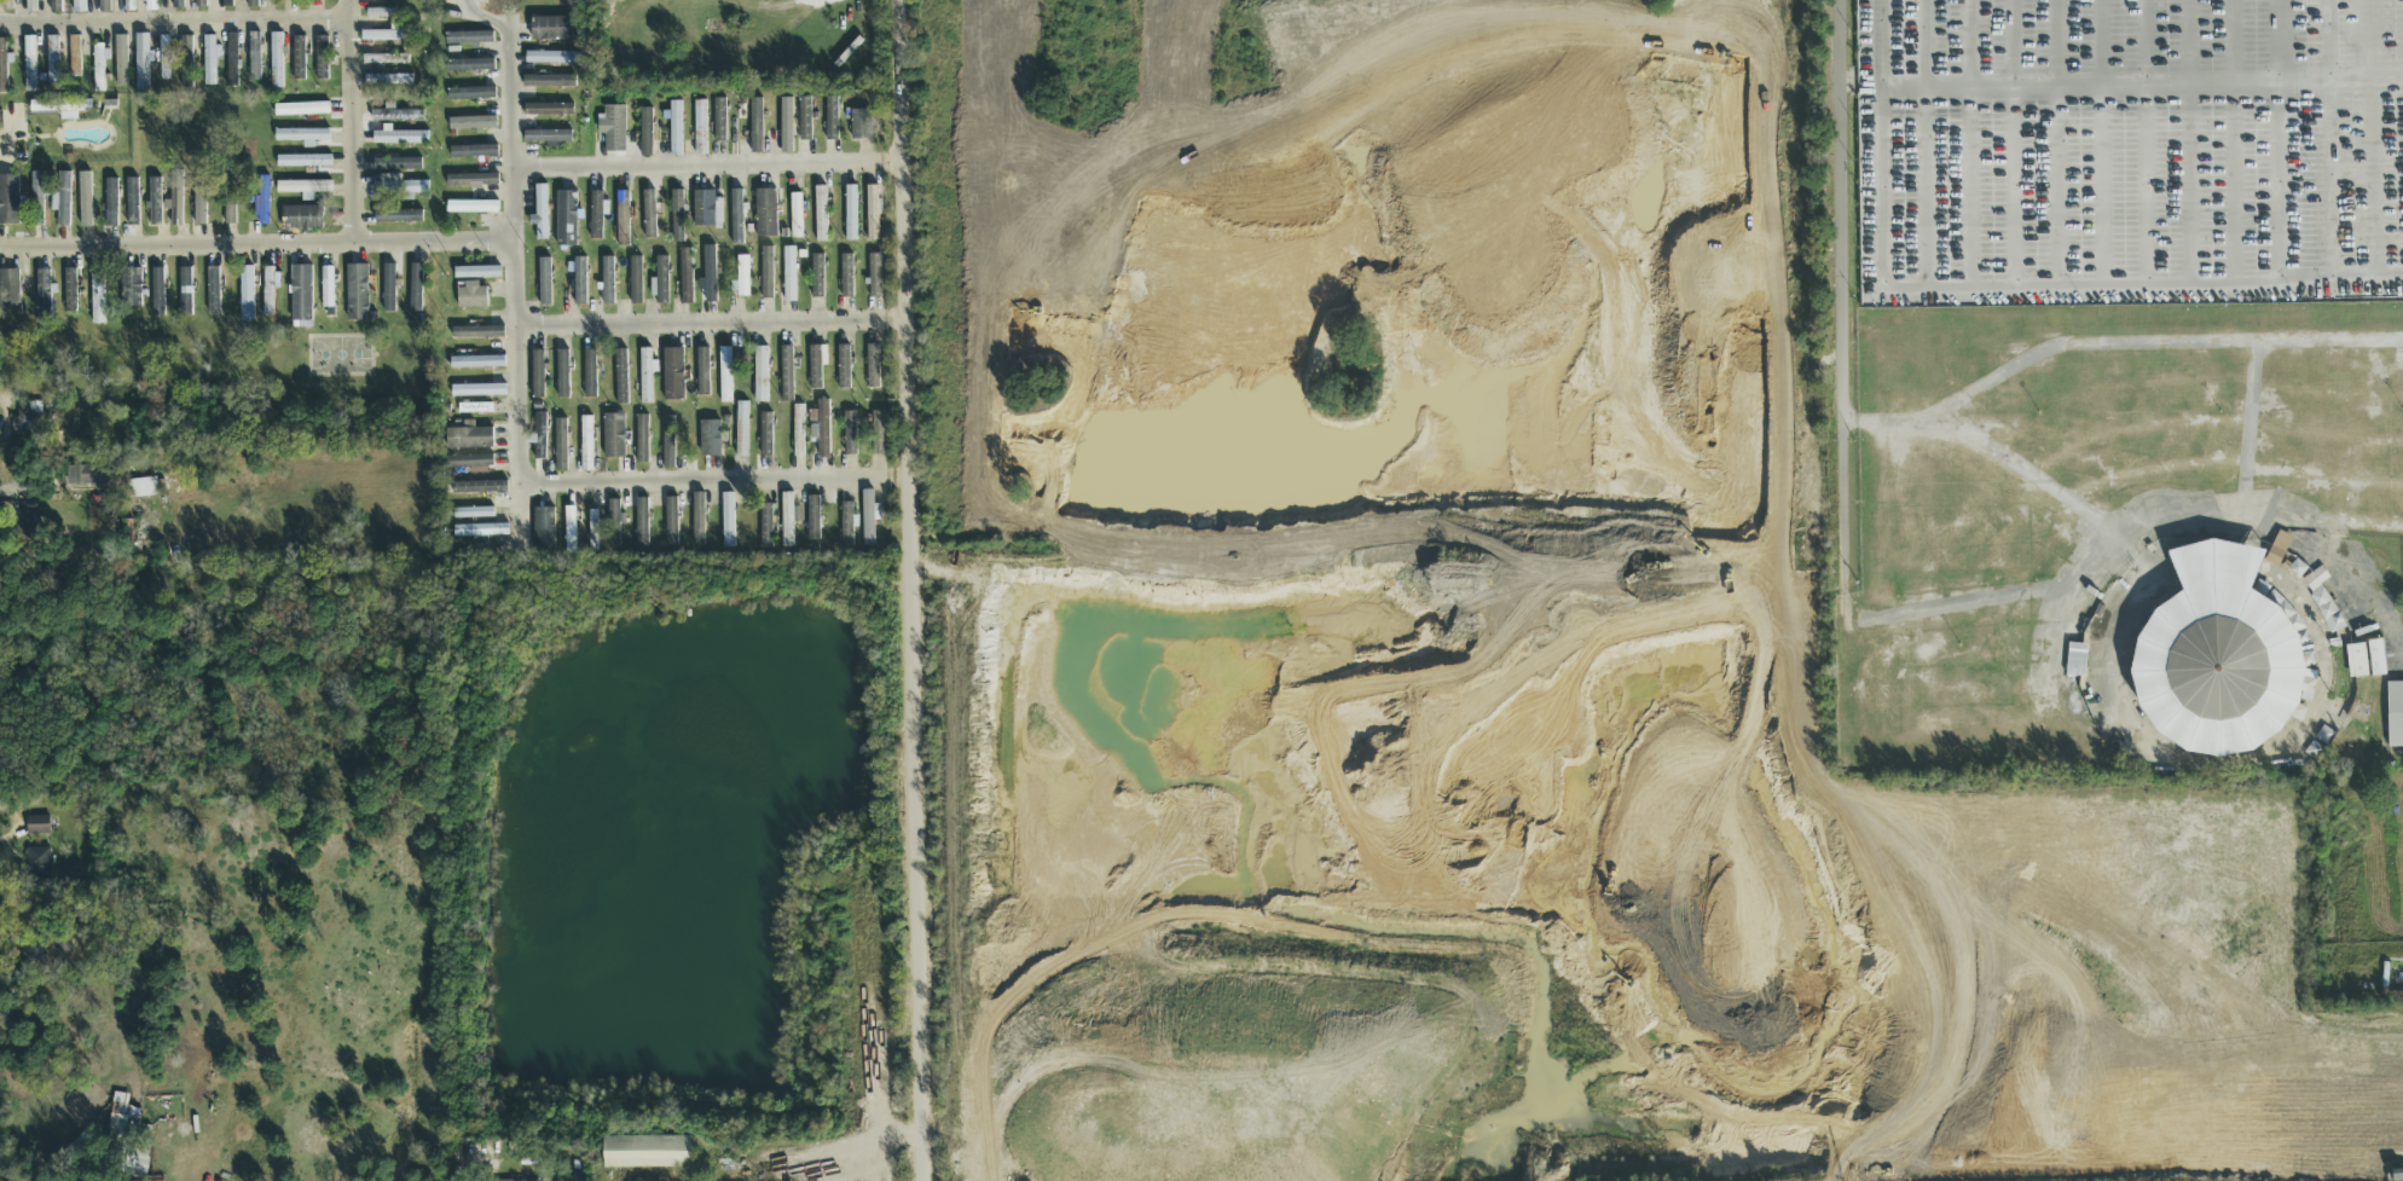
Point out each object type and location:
building: (315, 0)
building: (178, 4)
building: (201, 4)
building: (228, 4)
building: (251, 4)
building: (129, 5)
building: (151, 5)
building: (29, 6)
building: (56, 6)
building: (77, 6)
building: (104, 6)
building: (380, 13)
road: (175, 22)
building: (551, 29)
building: (383, 36)
building: (469, 39)
building: (75, 56)
building: (255, 57)
building: (164, 58)
building: (322, 58)
building: (552, 58)
building: (299, 59)
building: (386, 59)
building: (52, 60)
building: (121, 60)
building: (187, 60)
building: (210, 60)
building: (232, 60)
building: (277, 60)
building: (143, 63)
building: (30, 64)
building: (2, 66)
building: (99, 66)
building: (470, 66)
building: (388, 80)
building: (550, 82)
road: (2103, 86)
building: (471, 94)
building: (62, 108)
building: (302, 110)
building: (549, 110)
building: (393, 116)
building: (805, 118)
building: (832, 120)
road: (352, 121)
building: (720, 121)
building: (473, 123)
building: (862, 125)
building: (755, 126)
building: (787, 126)
building: (676, 128)
building: (700, 128)
building: (615, 129)
building: (645, 132)
building: (302, 137)
building: (399, 138)
building: (549, 138)
building: (474, 152)
building: (303, 161)
road: (2330, 163)
building: (396, 164)
road: (708, 167)
building: (473, 180)
building: (230, 181)
building: (399, 186)
building: (305, 189)
building: (37, 198)
building: (8, 199)
building: (62, 199)
building: (85, 199)
building: (176, 199)
building: (156, 202)
building: (201, 202)
building: (111, 203)
building: (133, 203)
building: (262, 203)
building: (473, 208)
building: (707, 209)
building: (873, 213)
building: (230, 214)
building: (540, 214)
building: (649, 214)
building: (766, 214)
building: (821, 214)
building: (851, 214)
building: (398, 216)
building: (596, 216)
building: (677, 216)
building: (797, 216)
building: (302, 218)
building: (736, 218)
building: (567, 219)
building: (623, 219)
road: (256, 244)
road: (514, 271)
building: (477, 273)
building: (768, 273)
building: (710, 274)
building: (789, 274)
building: (687, 277)
building: (817, 277)
building: (847, 277)
building: (875, 277)
building: (741, 278)
building: (579, 280)
building: (608, 280)
building: (636, 280)
building: (661, 282)
building: (545, 283)
building: (132, 288)
building: (328, 288)
building: (390, 288)
building: (416, 288)
road: (1969, 289)
building: (10, 290)
building: (270, 290)
building: (70, 291)
building: (186, 291)
building: (214, 291)
building: (158, 293)
building: (357, 293)
building: (247, 294)
building: (301, 294)
building: (42, 296)
building: (97, 296)
building: (471, 296)
road: (1842, 303)
road: (712, 323)
building: (477, 332)
road: (2113, 345)
building: (476, 361)
building: (815, 367)
building: (844, 367)
building: (873, 367)
building: (703, 372)
building: (787, 374)
building: (538, 375)
building: (563, 375)
building: (590, 375)
building: (647, 375)
building: (673, 375)
building: (760, 375)
building: (726, 376)
building: (621, 377)
building: (479, 392)
building: (475, 409)
building: (823, 428)
building: (742, 430)
building: (798, 432)
building: (850, 434)
building: (878, 434)
building: (766, 435)
building: (614, 436)
building: (469, 438)
building: (539, 438)
building: (711, 439)
building: (642, 440)
building: (668, 442)
building: (586, 444)
building: (561, 445)
building: (469, 462)
building: (87, 475)
road: (714, 480)
building: (481, 487)
building: (143, 488)
building: (474, 514)
building: (813, 519)
building: (868, 519)
building: (27, 520)
building: (699, 520)
building: (788, 520)
building: (728, 521)
building: (642, 522)
building: (672, 522)
building: (614, 525)
building: (847, 525)
building: (766, 526)
building: (544, 529)
building: (480, 531)
building: (571, 531)
building: (593, 531)
building: (2277, 549)
road: (914, 590)
building: (2318, 594)
building: (2376, 658)
building: (2075, 660)
building: (2356, 661)
building: (2218, 671)
building: (2393, 719)
building: (37, 826)
building: (37, 859)
building: (122, 1117)
building: (647, 1152)
building: (499, 1180)

